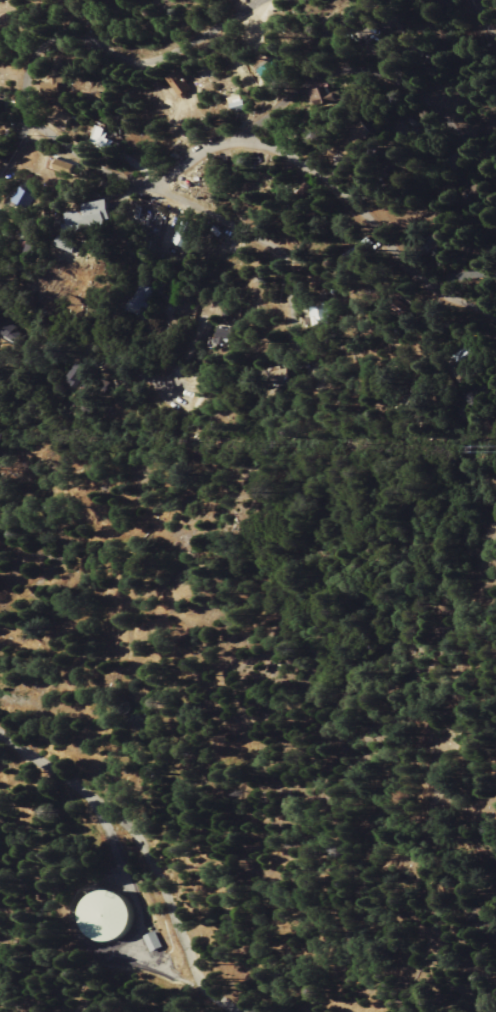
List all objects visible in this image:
road: (481, 17)
road: (84, 39)
building: (272, 71)
road: (376, 75)
building: (55, 85)
building: (181, 87)
building: (330, 95)
building: (239, 105)
building: (105, 138)
road: (277, 149)
building: (65, 167)
building: (26, 197)
building: (98, 219)
building: (185, 234)
road: (257, 240)
building: (79, 247)
building: (43, 251)
building: (321, 313)
building: (9, 335)
road: (85, 362)
building: (80, 372)
road: (141, 855)
building: (110, 916)
building: (154, 942)

